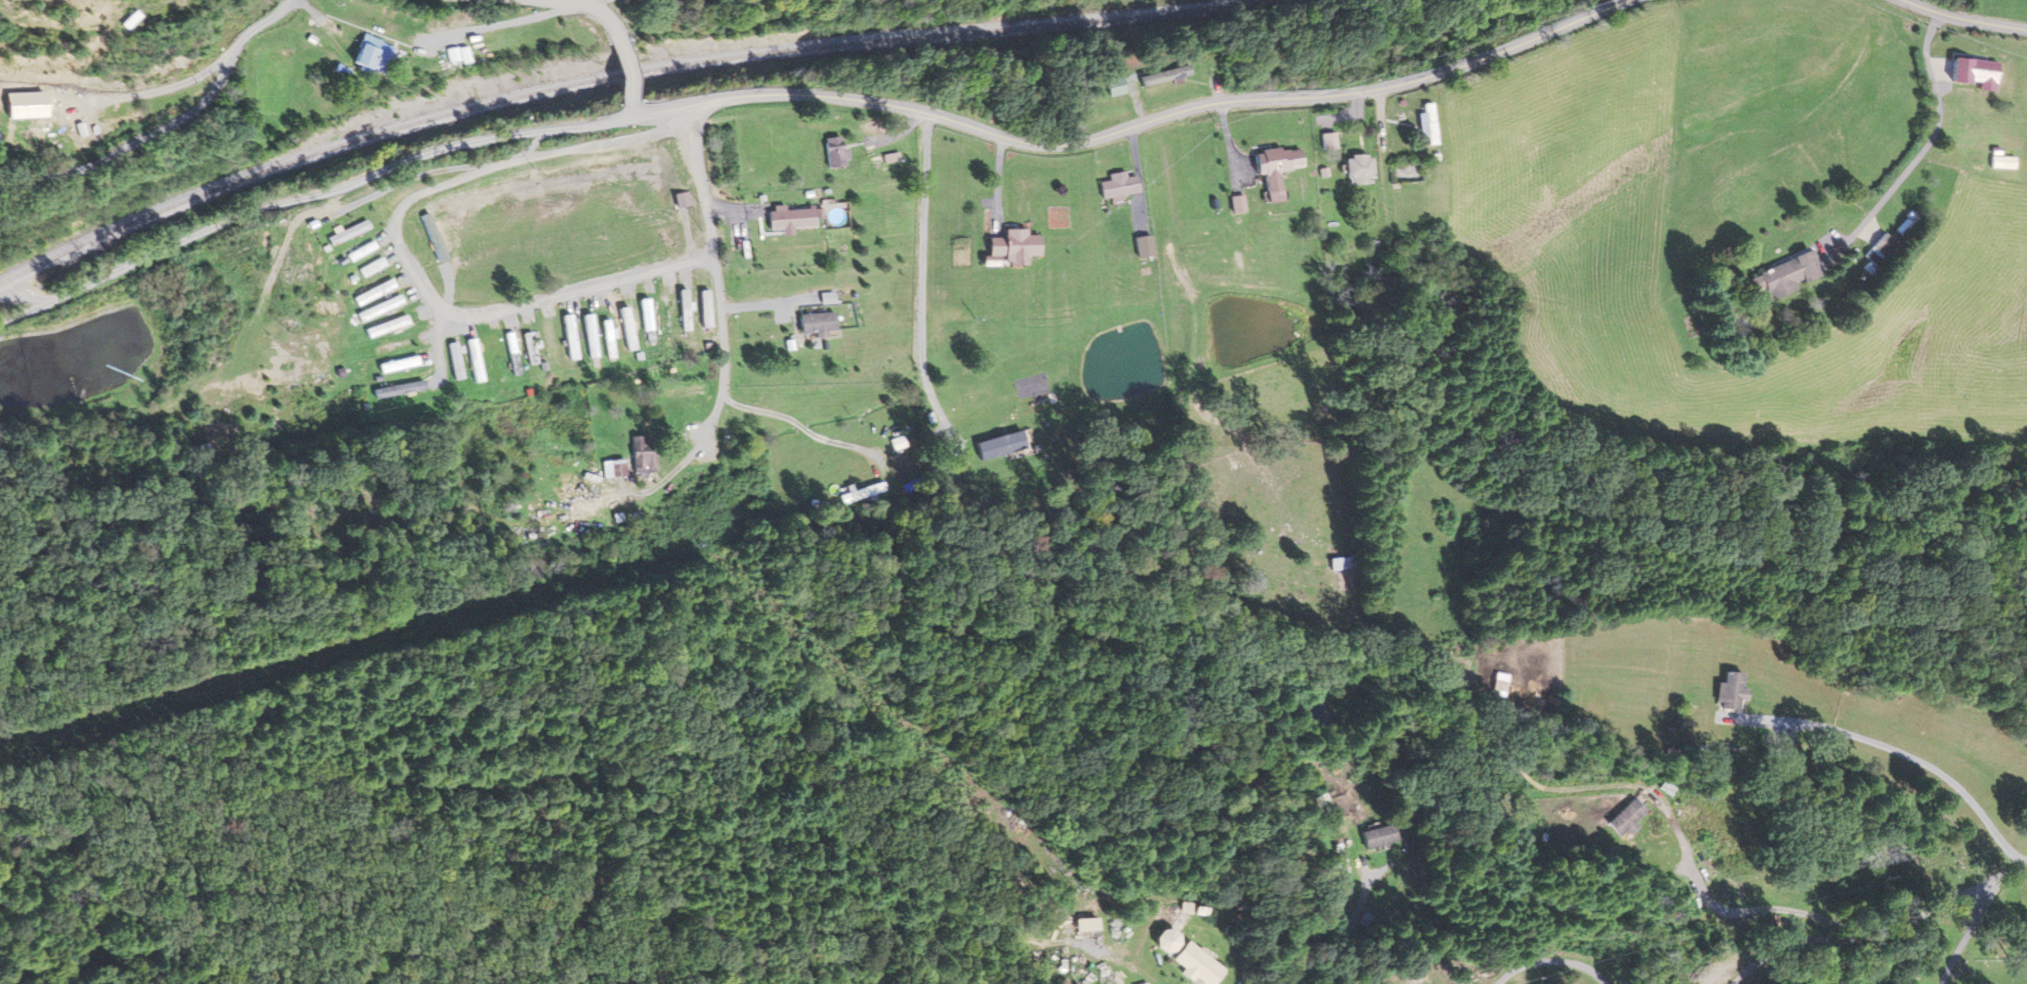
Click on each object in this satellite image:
road: (589, 8)
road: (1964, 16)
building: (352, 53)
building: (444, 56)
road: (617, 69)
building: (1971, 73)
railway: (609, 74)
building: (1159, 78)
building: (1107, 87)
road: (154, 89)
building: (0, 108)
road: (626, 109)
road: (164, 123)
road: (1131, 124)
building: (1425, 124)
building: (76, 134)
building: (830, 152)
building: (887, 158)
building: (1999, 162)
building: (1266, 164)
building: (1354, 168)
road: (450, 179)
building: (1115, 185)
road: (327, 189)
building: (678, 200)
building: (1234, 204)
building: (780, 219)
building: (343, 233)
road: (713, 242)
building: (1140, 246)
building: (1010, 247)
building: (354, 253)
building: (369, 268)
building: (1783, 275)
road: (577, 289)
building: (371, 293)
road: (18, 299)
building: (700, 305)
building: (378, 308)
building: (681, 310)
road: (18, 311)
building: (663, 313)
building: (644, 315)
building: (812, 323)
building: (624, 324)
building: (389, 325)
building: (589, 336)
building: (569, 337)
building: (606, 339)
building: (548, 342)
building: (391, 347)
building: (528, 348)
building: (511, 353)
building: (493, 357)
building: (473, 360)
building: (454, 361)
building: (394, 365)
building: (399, 384)
building: (682, 394)
road: (716, 409)
building: (639, 458)
building: (613, 468)
building: (854, 495)
building: (1339, 564)
building: (1496, 684)
building: (1730, 691)
building: (1624, 818)
building: (1377, 836)
road: (1966, 932)
road: (1882, 936)
building: (1184, 957)
road: (1548, 962)

